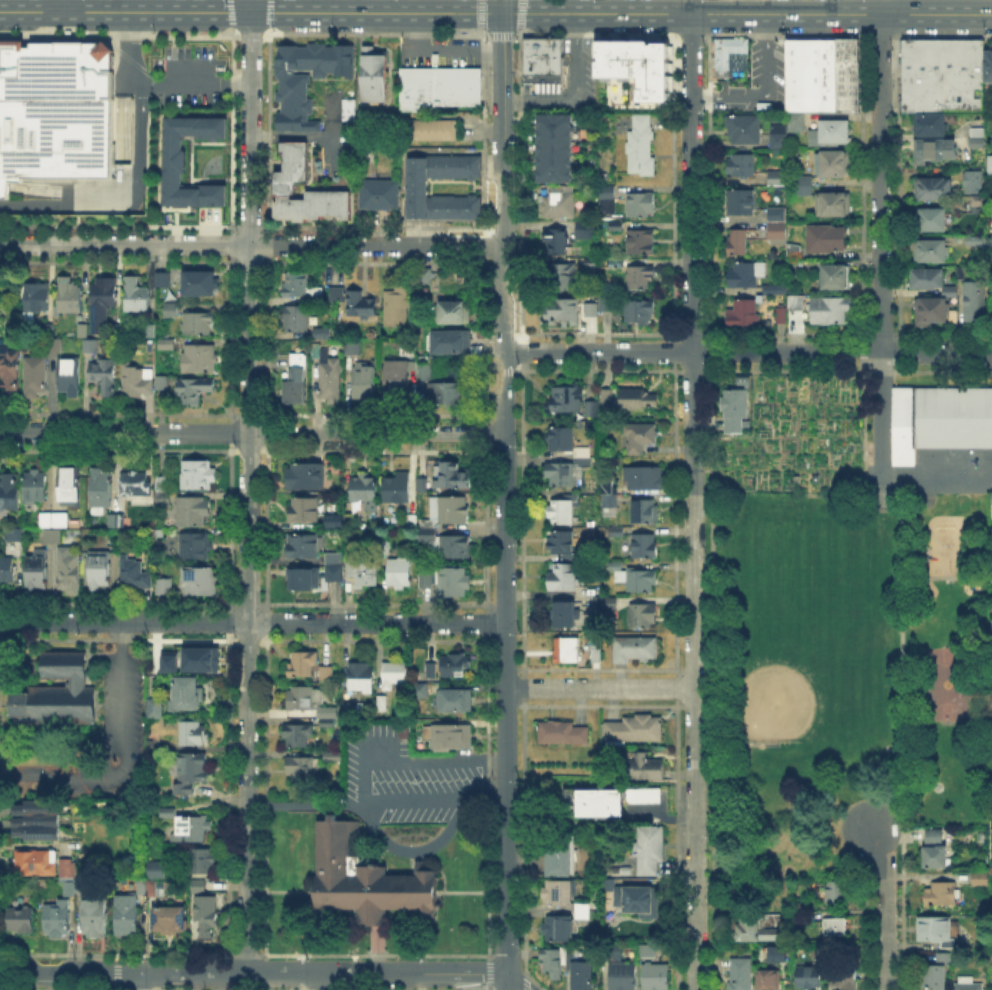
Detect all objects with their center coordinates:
road: (62, 6)
road: (250, 6)
road: (501, 6)
road: (522, 6)
road: (689, 6)
road: (888, 7)
road: (31, 10)
road: (77, 12)
road: (156, 12)
traffic signals: (225, 12)
road: (229, 12)
traffic signals: (270, 12)
road: (376, 12)
road: (42, 13)
road: (267, 13)
traffic signals: (501, 13)
road: (746, 13)
road: (482, 14)
road: (41, 30)
road: (77, 30)
road: (230, 31)
road: (267, 31)
road: (483, 32)
road: (120, 35)
road: (252, 36)
road: (377, 36)
road: (496, 36)
road: (438, 51)
building: (725, 53)
building: (907, 56)
building: (920, 56)
building: (934, 56)
building: (948, 56)
building: (962, 56)
building: (975, 56)
building: (316, 57)
building: (541, 58)
building: (987, 63)
road: (356, 66)
building: (637, 70)
building: (373, 73)
building: (818, 73)
building: (792, 74)
building: (846, 74)
parking lot: (188, 76)
parking lot: (755, 79)
road: (190, 82)
building: (456, 85)
road: (124, 87)
building: (415, 88)
road: (765, 88)
road: (575, 92)
building: (941, 92)
building: (292, 100)
building: (347, 107)
building: (54, 109)
building: (792, 119)
building: (929, 122)
building: (741, 126)
building: (975, 130)
road: (333, 131)
building: (435, 131)
building: (828, 131)
building: (776, 135)
road: (292, 136)
building: (973, 141)
building: (642, 148)
building: (933, 148)
building: (557, 149)
building: (175, 162)
building: (834, 165)
building: (991, 166)
building: (742, 167)
building: (292, 178)
building: (778, 180)
building: (974, 180)
road: (880, 182)
building: (805, 187)
building: (420, 188)
building: (932, 191)
road: (119, 194)
building: (381, 195)
building: (609, 200)
building: (558, 203)
building: (741, 203)
building: (982, 204)
building: (834, 205)
building: (641, 206)
building: (931, 222)
building: (779, 226)
building: (614, 227)
building: (587, 232)
building: (823, 237)
building: (558, 243)
building: (641, 243)
building: (739, 243)
road: (251, 244)
building: (930, 252)
building: (594, 264)
building: (747, 275)
building: (426, 277)
building: (562, 278)
building: (640, 278)
building: (836, 278)
building: (928, 280)
building: (164, 281)
building: (202, 285)
building: (297, 285)
building: (776, 290)
building: (338, 296)
building: (37, 297)
building: (70, 297)
building: (135, 298)
building: (973, 298)
building: (101, 301)
building: (797, 303)
building: (609, 304)
building: (359, 305)
building: (399, 306)
building: (168, 308)
building: (937, 310)
building: (455, 311)
building: (592, 311)
building: (564, 312)
building: (640, 312)
building: (831, 312)
building: (172, 313)
building: (743, 314)
building: (781, 317)
building: (296, 320)
building: (197, 326)
building: (82, 330)
building: (323, 335)
building: (53, 339)
building: (412, 343)
building: (453, 343)
building: (91, 347)
building: (354, 348)
road: (746, 352)
building: (201, 360)
building: (10, 368)
building: (425, 371)
building: (104, 376)
building: (330, 376)
building: (70, 377)
building: (36, 378)
building: (297, 381)
building: (365, 381)
building: (138, 382)
building: (163, 383)
building: (398, 383)
building: (194, 392)
building: (449, 394)
building: (608, 397)
building: (636, 398)
building: (568, 400)
building: (729, 407)
building: (593, 409)
road: (879, 418)
building: (938, 419)
road: (251, 433)
building: (640, 438)
building: (562, 440)
building: (568, 470)
building: (813, 474)
building: (199, 475)
building: (796, 475)
building: (307, 477)
building: (452, 477)
building: (646, 480)
building: (134, 485)
building: (423, 486)
building: (37, 488)
building: (72, 488)
building: (399, 488)
road: (246, 492)
building: (366, 492)
building: (101, 494)
building: (609, 495)
building: (10, 496)
road: (503, 501)
road: (692, 501)
building: (304, 509)
building: (561, 512)
building: (646, 512)
building: (194, 513)
building: (117, 522)
building: (337, 523)
building: (413, 523)
building: (54, 528)
building: (431, 531)
building: (615, 533)
building: (17, 534)
building: (561, 543)
building: (197, 547)
building: (645, 547)
building: (305, 548)
building: (614, 564)
building: (335, 566)
building: (354, 568)
building: (7, 570)
building: (100, 571)
building: (38, 572)
building: (69, 572)
building: (370, 573)
building: (401, 573)
building: (135, 575)
building: (305, 577)
building: (564, 577)
building: (427, 579)
building: (638, 580)
building: (200, 581)
building: (453, 584)
building: (166, 587)
building: (609, 604)
building: (566, 616)
building: (643, 617)
road: (251, 621)
building: (990, 635)
road: (374, 639)
building: (636, 650)
building: (568, 652)
road: (897, 652)
building: (596, 654)
building: (199, 658)
building: (167, 661)
building: (302, 666)
building: (455, 667)
park: (844, 670)
building: (432, 671)
building: (395, 674)
building: (328, 675)
building: (362, 678)
park: (950, 683)
park: (789, 686)
road: (598, 687)
building: (421, 692)
building: (190, 693)
building: (60, 695)
building: (303, 699)
building: (383, 703)
building: (456, 703)
building: (155, 711)
building: (351, 711)
building: (329, 719)
building: (634, 729)
building: (194, 734)
building: (562, 734)
building: (299, 736)
building: (452, 738)
parking lot: (100, 741)
road: (122, 759)
road: (411, 761)
building: (307, 763)
building: (643, 767)
building: (192, 773)
parking lot: (399, 775)
building: (646, 796)
road: (482, 801)
road: (411, 803)
building: (602, 804)
road: (304, 805)
building: (169, 814)
building: (38, 822)
building: (194, 830)
building: (931, 835)
road: (413, 849)
building: (651, 850)
building: (935, 854)
building: (560, 861)
building: (203, 862)
building: (37, 863)
building: (155, 870)
building: (69, 871)
building: (367, 878)
building: (980, 880)
building: (196, 884)
building: (77, 888)
building: (142, 888)
building: (156, 890)
building: (559, 893)
building: (942, 895)
building: (838, 896)
building: (636, 900)
road: (882, 908)
building: (584, 910)
building: (206, 912)
building: (127, 916)
building: (96, 918)
building: (22, 920)
building: (59, 920)
building: (171, 921)
building: (838, 927)
building: (559, 929)
building: (758, 931)
building: (936, 932)
road: (254, 943)
building: (776, 952)
road: (373, 953)
building: (615, 953)
building: (649, 953)
building: (945, 958)
building: (553, 964)
road: (68, 972)
road: (192, 973)
road: (285, 973)
road: (413, 973)
building: (741, 975)
building: (583, 976)
building: (624, 977)
building: (656, 977)
building: (810, 977)
building: (845, 977)
building: (935, 978)
building: (771, 980)
road: (138, 981)
road: (323, 981)
building: (969, 984)

